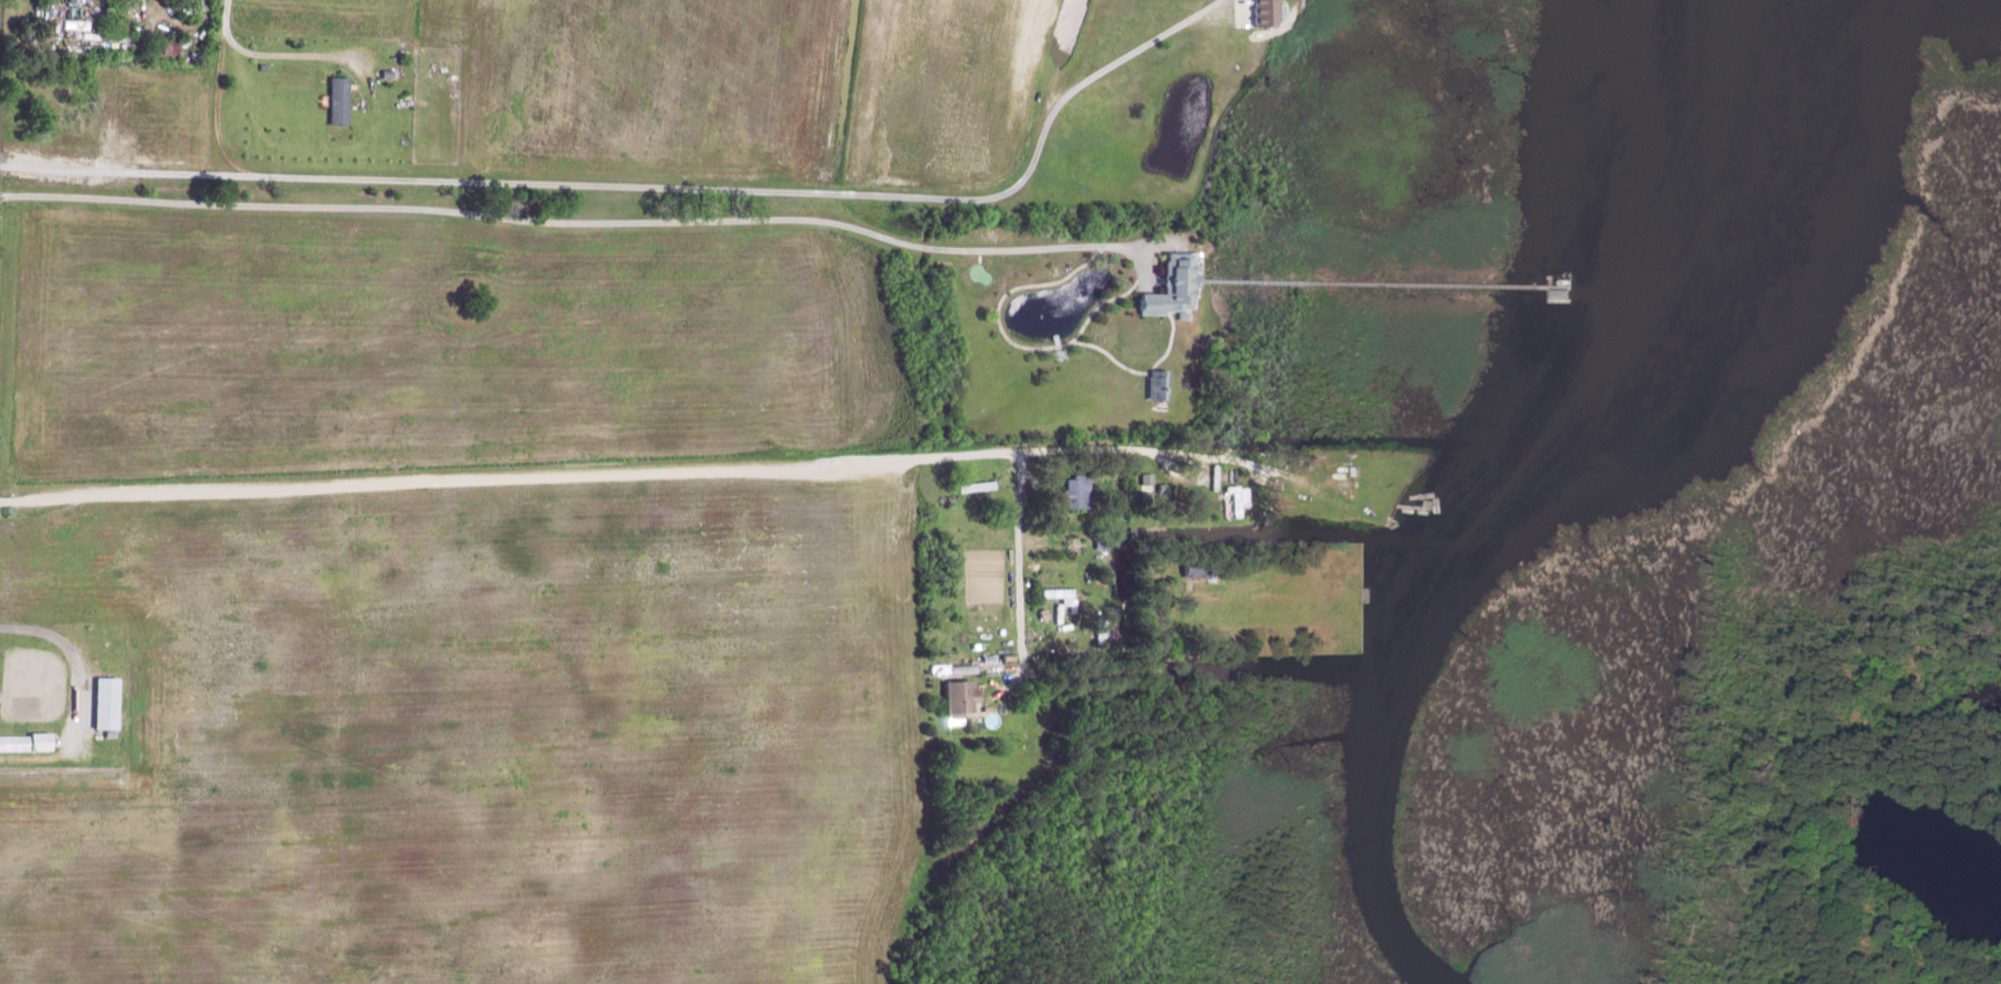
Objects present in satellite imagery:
building: (73, 1)
road: (49, 5)
building: (1269, 13)
crop: (327, 15)
building: (125, 28)
building: (173, 47)
road: (271, 55)
building: (264, 66)
building: (389, 74)
crop: (649, 85)
crop: (949, 93)
building: (59, 98)
building: (340, 101)
road: (217, 108)
crop: (159, 119)
road: (653, 186)
road: (586, 223)
road: (1144, 267)
pier: (1548, 281)
pier: (1568, 282)
pier: (1381, 283)
building: (1163, 286)
building: (1559, 293)
pier: (1551, 301)
pier: (1056, 339)
crop: (415, 341)
road: (1009, 341)
road: (1169, 341)
road: (1110, 355)
building: (1154, 384)
building: (1291, 460)
road: (1156, 466)
building: (1354, 469)
road: (1048, 470)
road: (1232, 472)
road: (636, 473)
building: (974, 485)
building: (1142, 487)
building: (1159, 488)
building: (1071, 491)
building: (1232, 500)
pier: (1415, 506)
road: (1041, 542)
building: (1099, 543)
road: (1023, 567)
building: (1192, 570)
building: (1056, 592)
building: (1040, 613)
building: (1104, 622)
road: (75, 657)
building: (1004, 657)
building: (984, 659)
road: (1137, 665)
building: (949, 669)
road: (1006, 687)
building: (955, 695)
building: (0, 696)
building: (109, 702)
building: (112, 734)
crop: (483, 736)
building: (29, 742)

